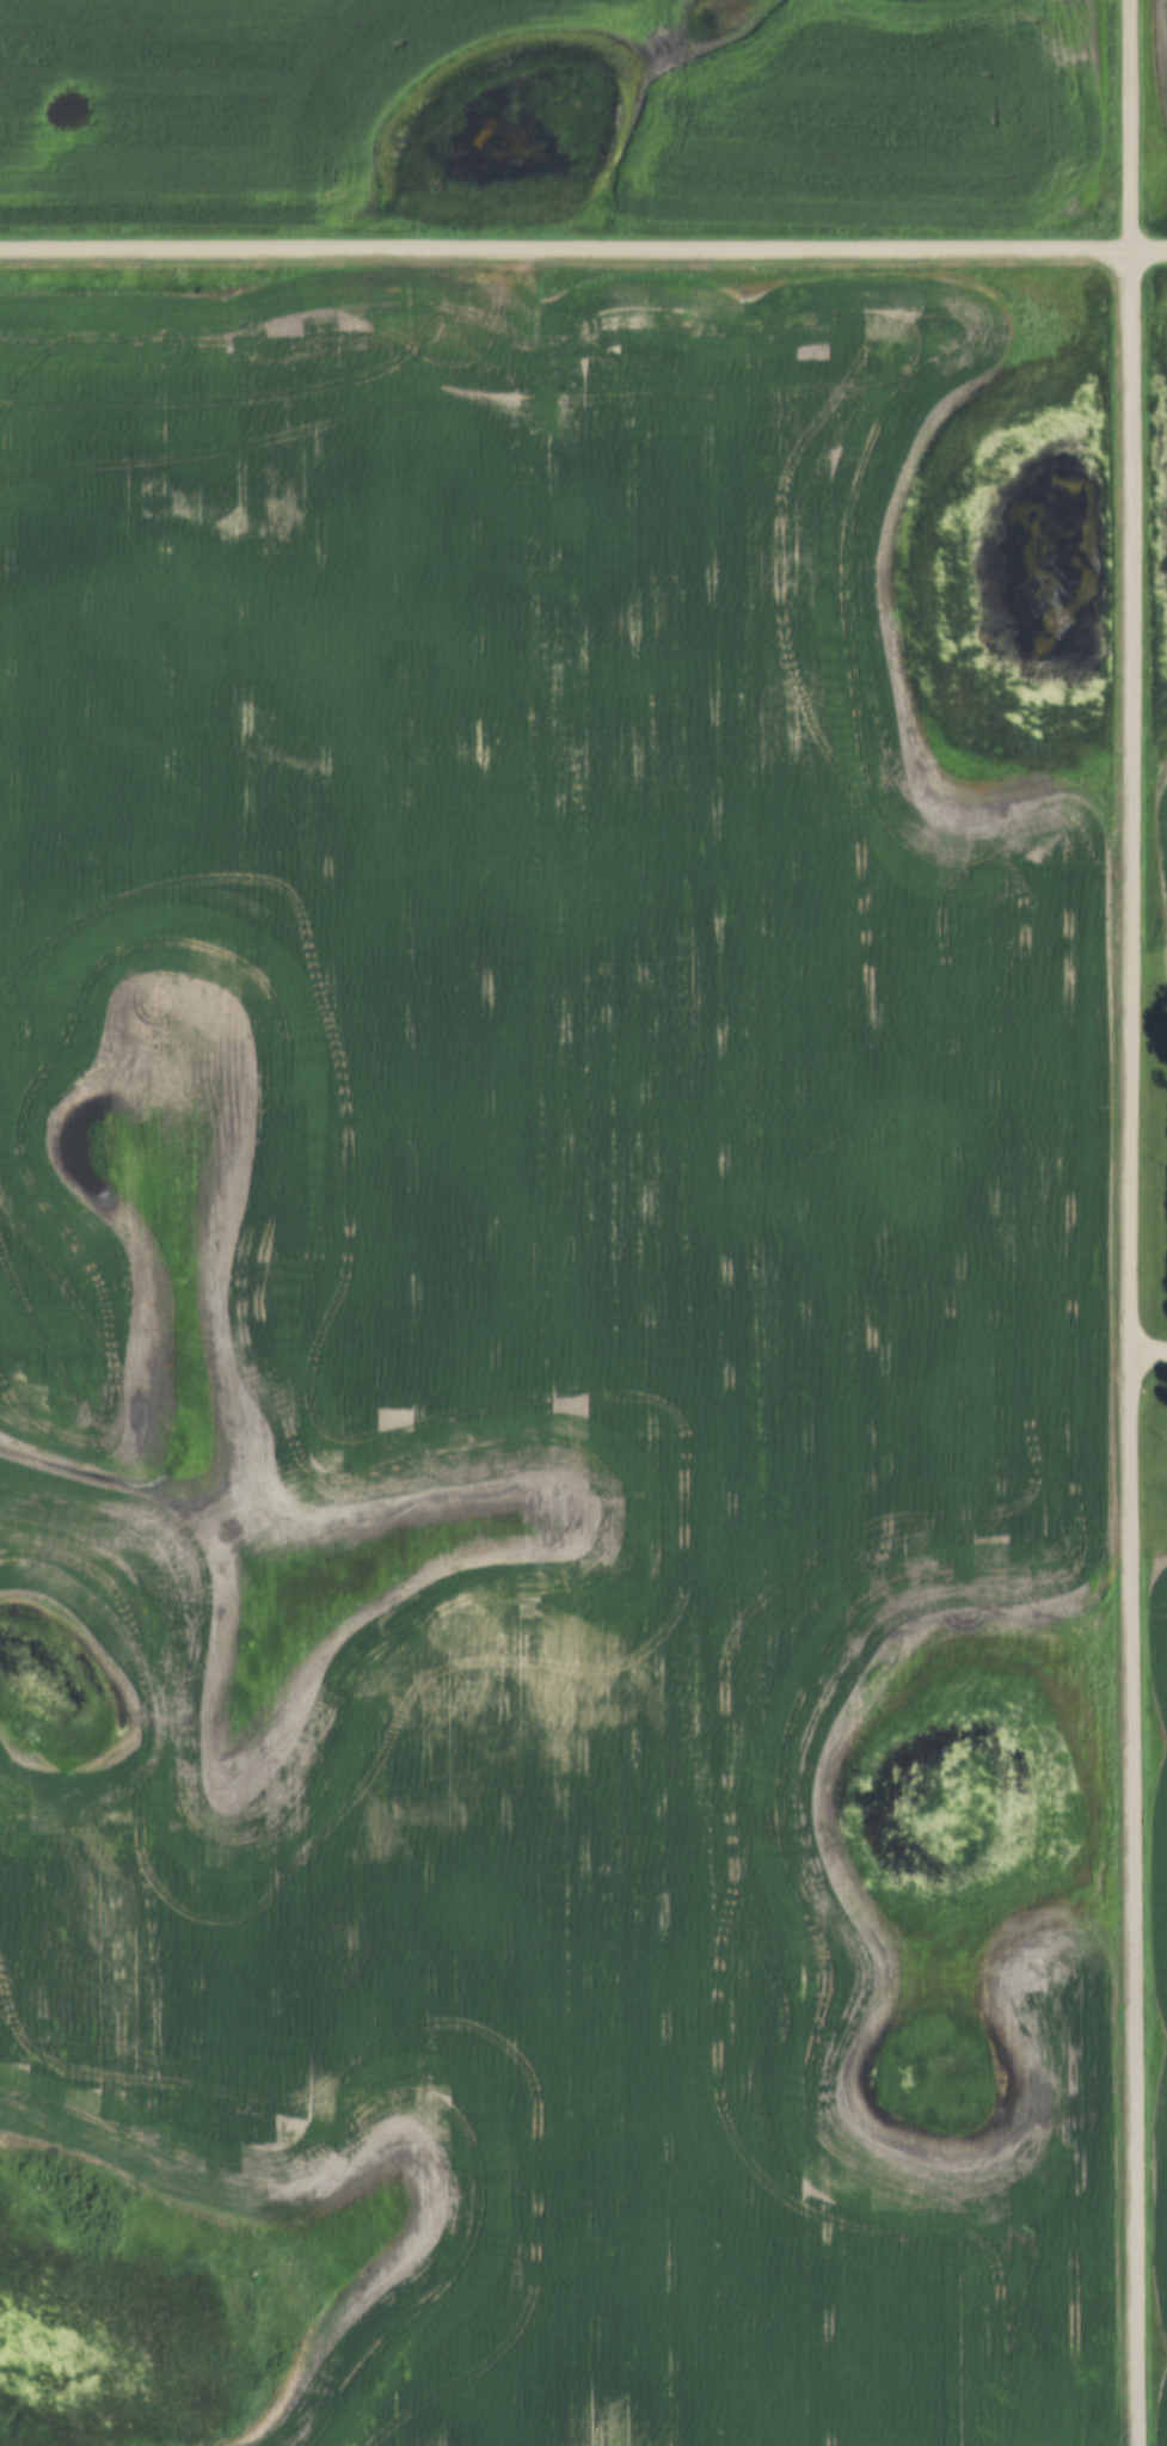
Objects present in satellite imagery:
road: (1151, 256)
road: (567, 257)
road: (1135, 1222)
road: (1150, 1349)

